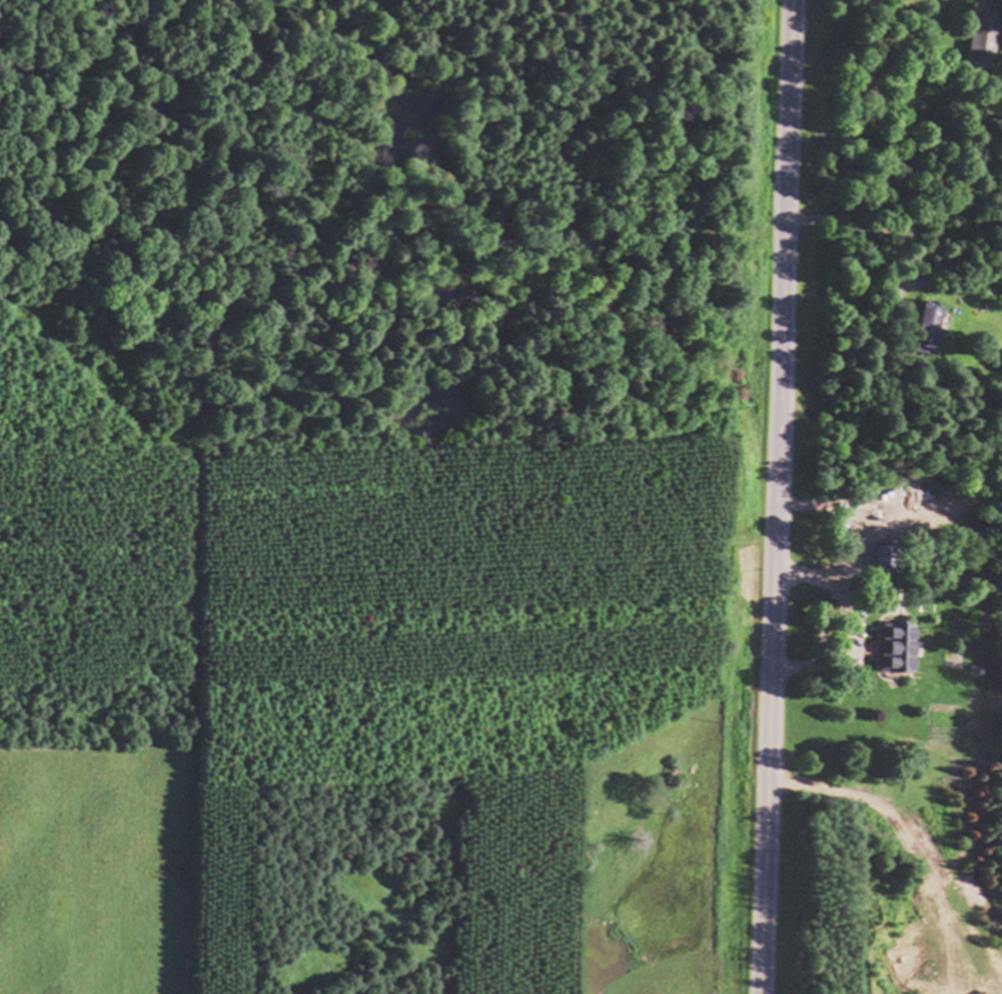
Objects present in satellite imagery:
building: (981, 37)
building: (929, 331)
road: (778, 496)
building: (886, 562)
road: (855, 627)
building: (896, 651)

